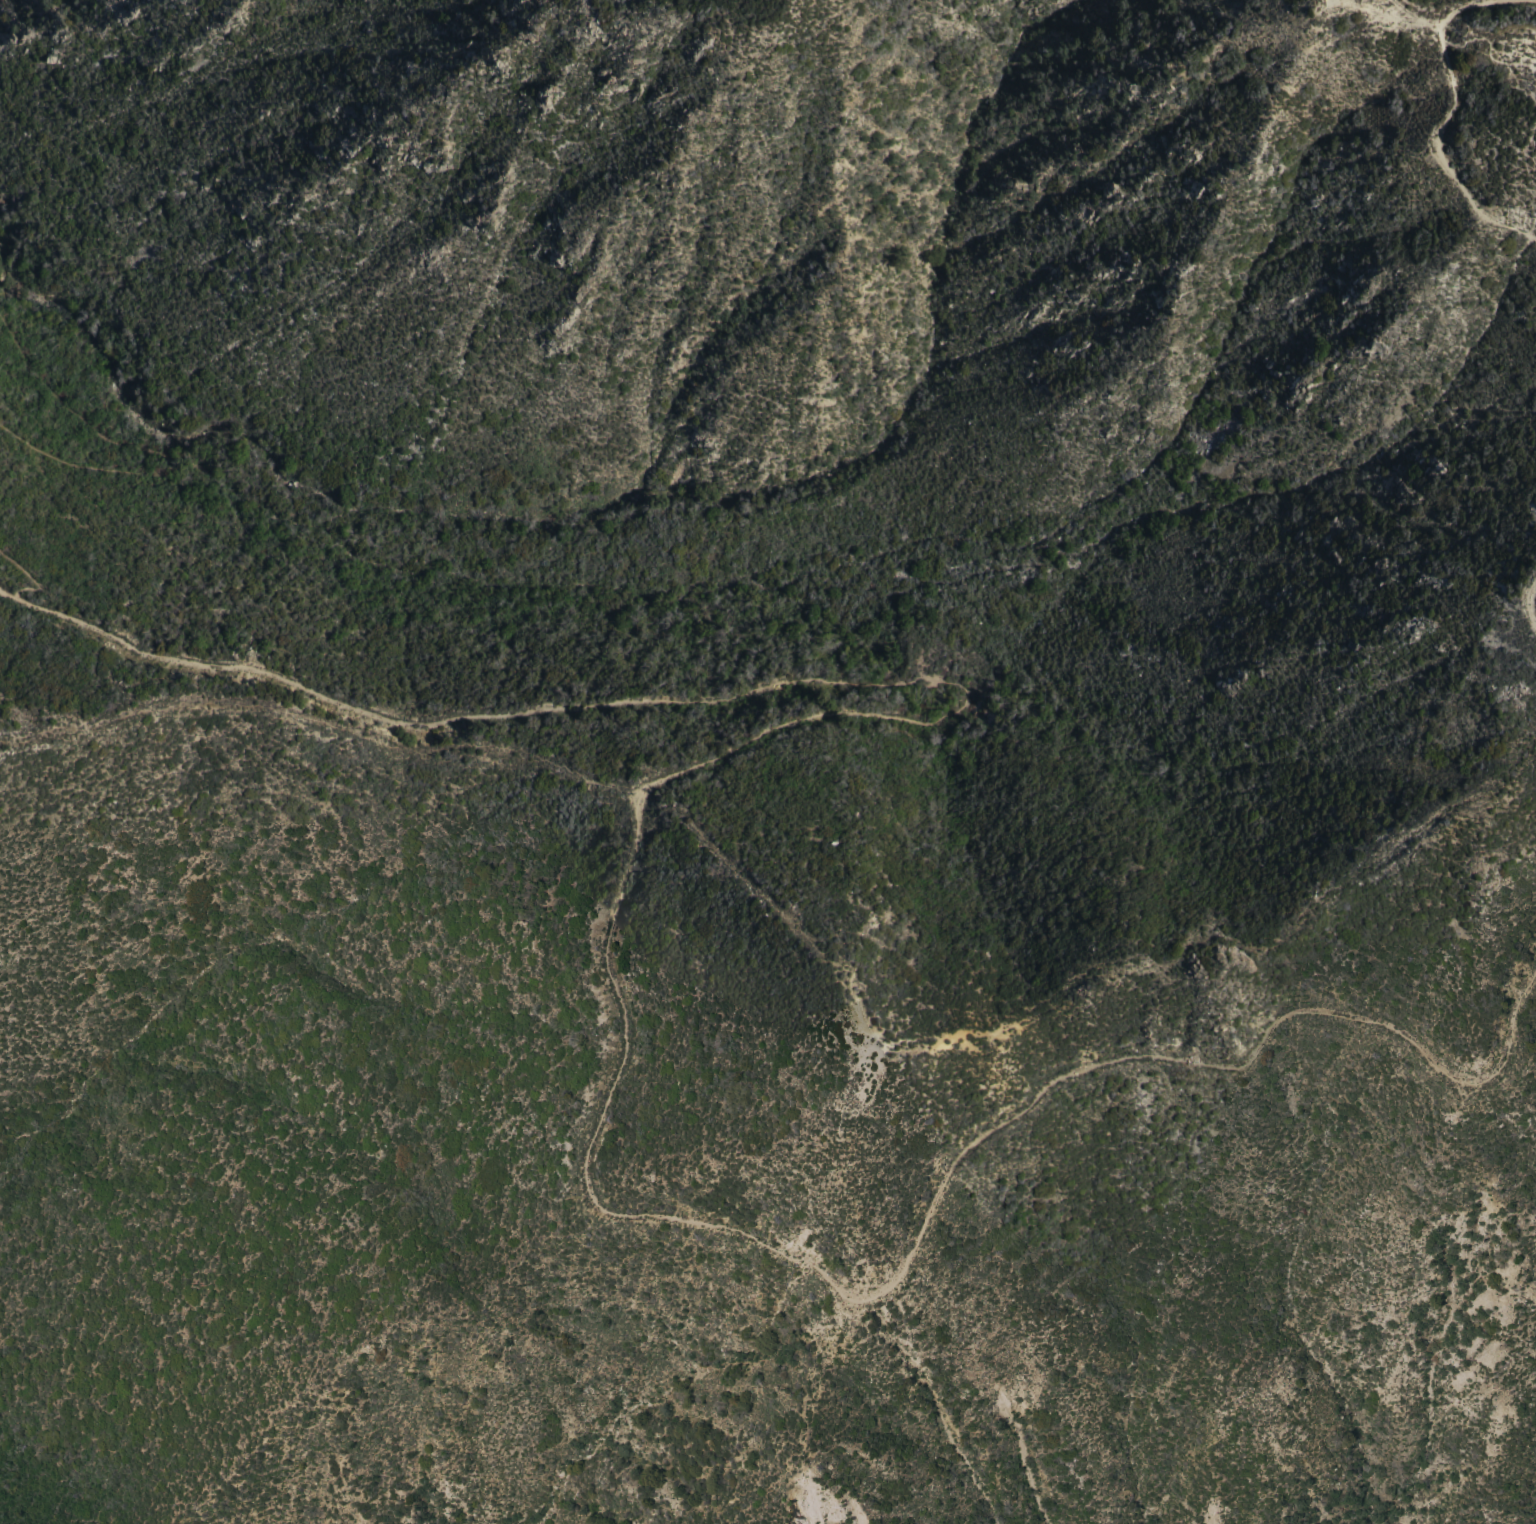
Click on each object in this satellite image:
road: (1409, 12)
road: (1490, 37)
road: (1423, 136)
road: (149, 462)
road: (23, 581)
road: (1528, 595)
road: (607, 916)

